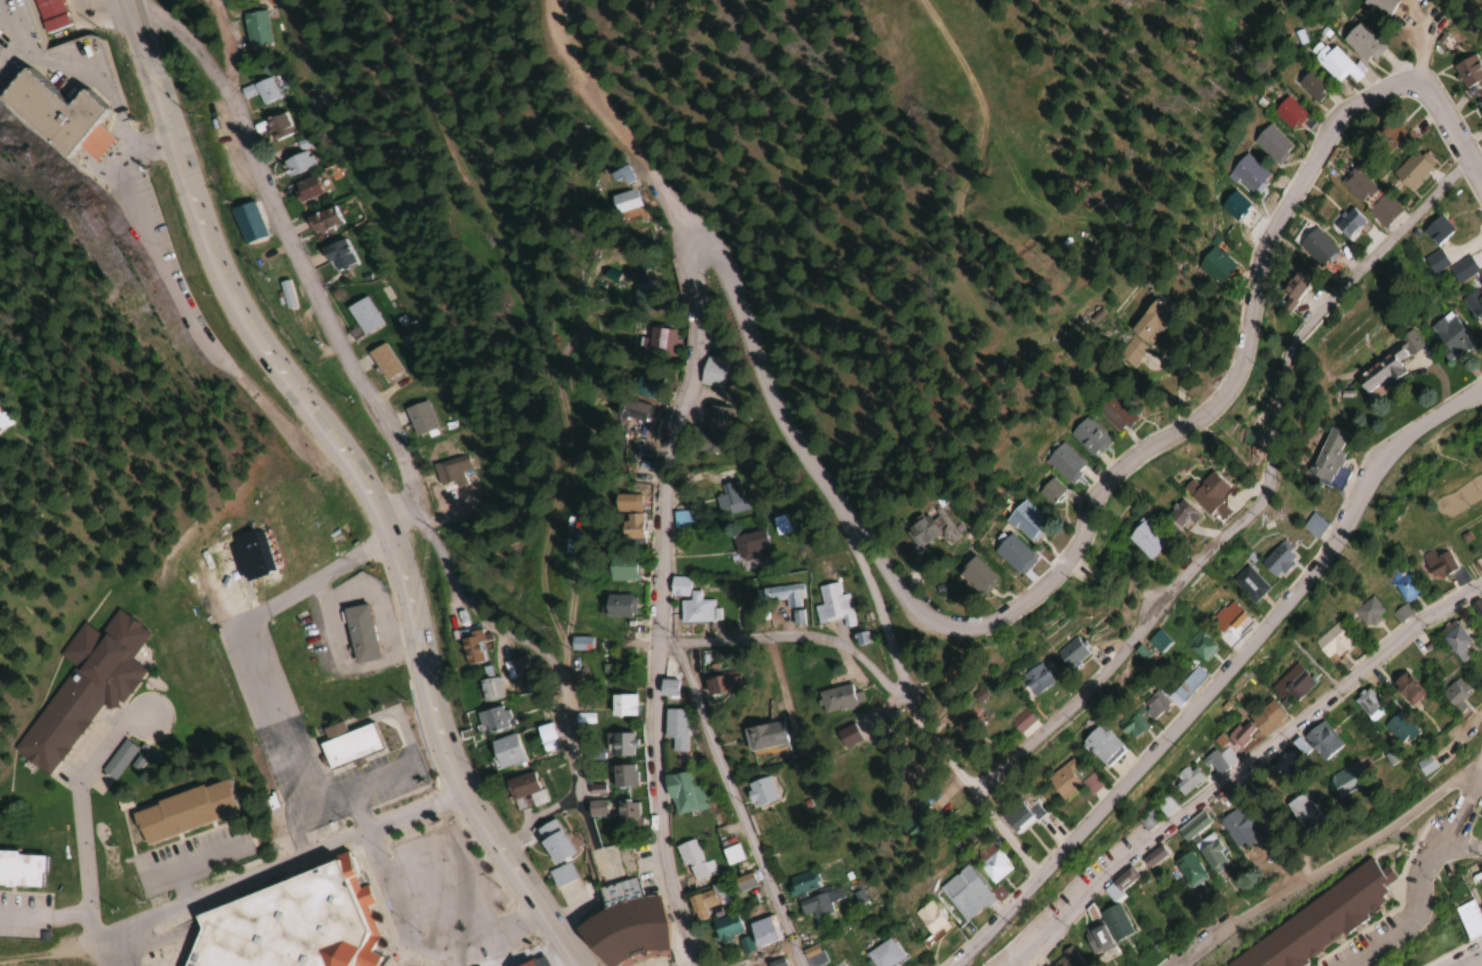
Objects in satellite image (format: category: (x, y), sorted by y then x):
building: (1378, 5)
building: (47, 15)
building: (255, 28)
building: (1360, 42)
building: (1332, 62)
building: (1468, 74)
building: (1310, 84)
building: (265, 90)
building: (1287, 112)
building: (1479, 113)
building: (56, 118)
building: (278, 126)
building: (1389, 135)
building: (1269, 143)
building: (298, 162)
building: (1410, 170)
building: (1246, 173)
building: (1355, 185)
building: (305, 189)
building: (622, 202)
building: (1232, 205)
building: (1381, 210)
building: (321, 221)
building: (246, 222)
building: (1347, 223)
building: (1435, 230)
building: (1316, 248)
road: (293, 252)
building: (335, 255)
building: (1432, 261)
building: (1213, 266)
building: (645, 275)
building: (1289, 289)
building: (285, 294)
building: (1474, 304)
building: (363, 316)
building: (1138, 333)
building: (1448, 336)
building: (659, 343)
building: (383, 362)
building: (1383, 368)
building: (711, 371)
building: (645, 381)
building: (632, 410)
building: (1112, 412)
building: (418, 418)
building: (713, 435)
building: (1247, 436)
building: (1087, 437)
building: (1325, 456)
building: (1061, 462)
building: (451, 471)
road: (361, 484)
building: (1048, 491)
building: (1203, 492)
road: (1250, 494)
road: (658, 498)
building: (730, 498)
road: (1087, 498)
building: (1179, 516)
building: (628, 517)
building: (682, 519)
building: (1023, 522)
building: (780, 524)
building: (917, 532)
building: (1142, 539)
building: (750, 546)
building: (1009, 555)
building: (1274, 562)
building: (1435, 563)
building: (617, 571)
building: (975, 574)
building: (1247, 585)
building: (1404, 587)
building: (784, 594)
building: (691, 603)
building: (833, 605)
building: (617, 607)
building: (1366, 613)
building: (1228, 619)
building: (357, 634)
road: (785, 635)
building: (1155, 642)
building: (1453, 642)
building: (1329, 643)
building: (581, 644)
building: (471, 646)
building: (1198, 647)
building: (1069, 654)
road: (550, 656)
building: (519, 666)
road: (1222, 678)
building: (1033, 679)
building: (1289, 684)
building: (716, 686)
building: (1184, 687)
building: (82, 689)
building: (1403, 689)
building: (490, 690)
building: (1451, 692)
building: (835, 700)
building: (622, 705)
building: (1366, 706)
road: (915, 712)
building: (1132, 715)
building: (492, 721)
building: (1254, 725)
building: (676, 728)
building: (1396, 729)
building: (961, 731)
building: (762, 737)
building: (1316, 743)
building: (619, 744)
building: (346, 745)
building: (1099, 746)
building: (504, 752)
building: (117, 761)
building: (1213, 763)
building: (1280, 764)
road: (1237, 766)
building: (901, 772)
building: (623, 776)
building: (1186, 779)
building: (1342, 781)
building: (1060, 782)
building: (519, 786)
building: (758, 792)
building: (684, 793)
road: (738, 796)
building: (1164, 806)
building: (597, 808)
building: (181, 813)
road: (1463, 813)
building: (1298, 814)
building: (627, 816)
building: (1018, 817)
building: (912, 820)
building: (1481, 820)
building: (1190, 827)
building: (1235, 828)
building: (552, 841)
building: (1207, 854)
building: (730, 855)
building: (1150, 857)
building: (692, 863)
road: (1325, 866)
building: (992, 867)
building: (20, 870)
building: (1186, 870)
building: (561, 874)
building: (1474, 876)
building: (1121, 880)
building: (742, 883)
building: (800, 883)
building: (964, 894)
road: (1419, 899)
building: (1479, 902)
building: (817, 903)
building: (701, 905)
road: (172, 911)
road: (48, 912)
building: (925, 919)
building: (1466, 919)
building: (1315, 920)
building: (290, 923)
building: (621, 924)
building: (1104, 927)
building: (724, 928)
building: (761, 932)
building: (881, 954)
building: (813, 955)
building: (536, 962)
road: (1478, 963)
building: (842, 964)

